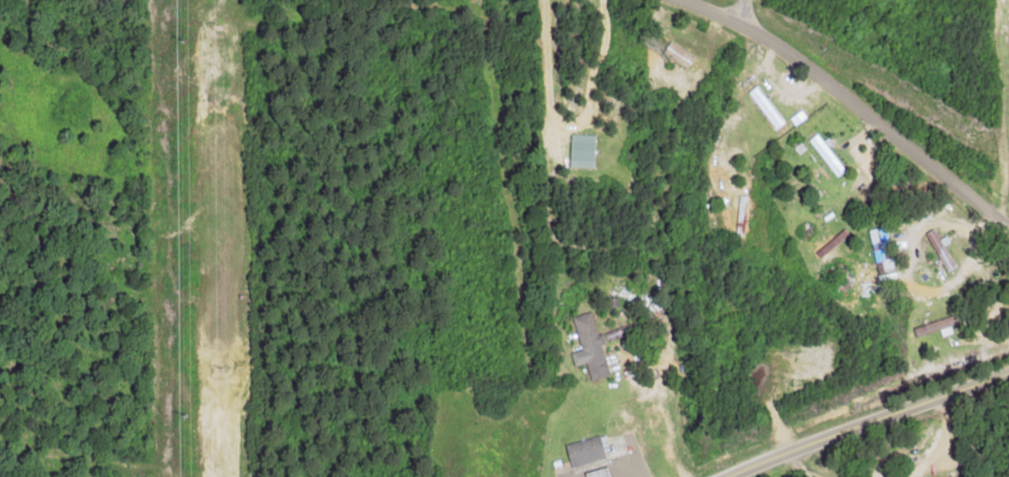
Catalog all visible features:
road: (735, 8)
building: (678, 54)
building: (765, 107)
road: (848, 108)
building: (581, 150)
building: (879, 248)
building: (939, 248)
building: (932, 326)
building: (588, 347)
road: (866, 424)
building: (584, 452)

